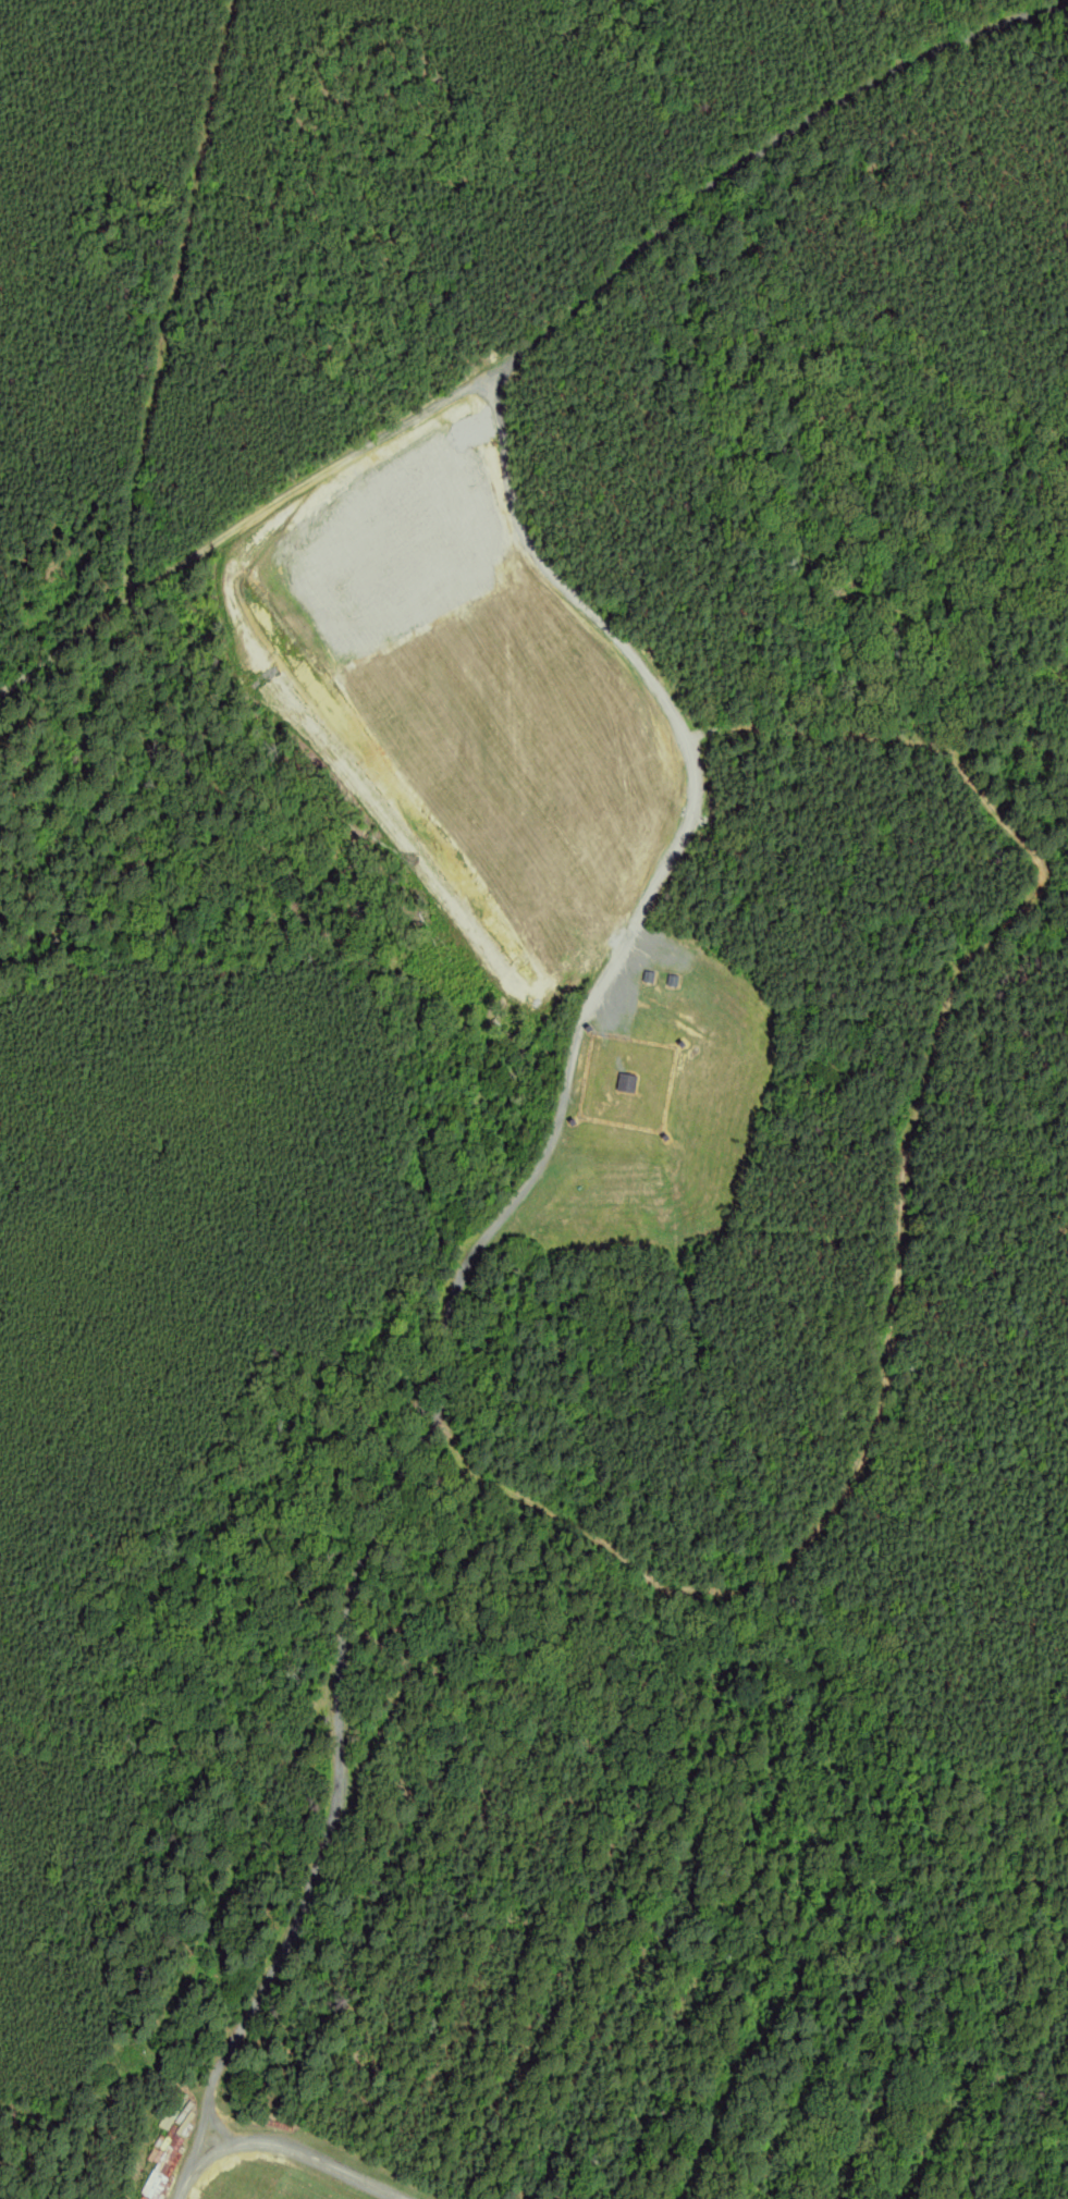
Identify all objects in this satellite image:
road: (176, 298)
road: (532, 339)
building: (625, 1082)
road: (277, 2146)

